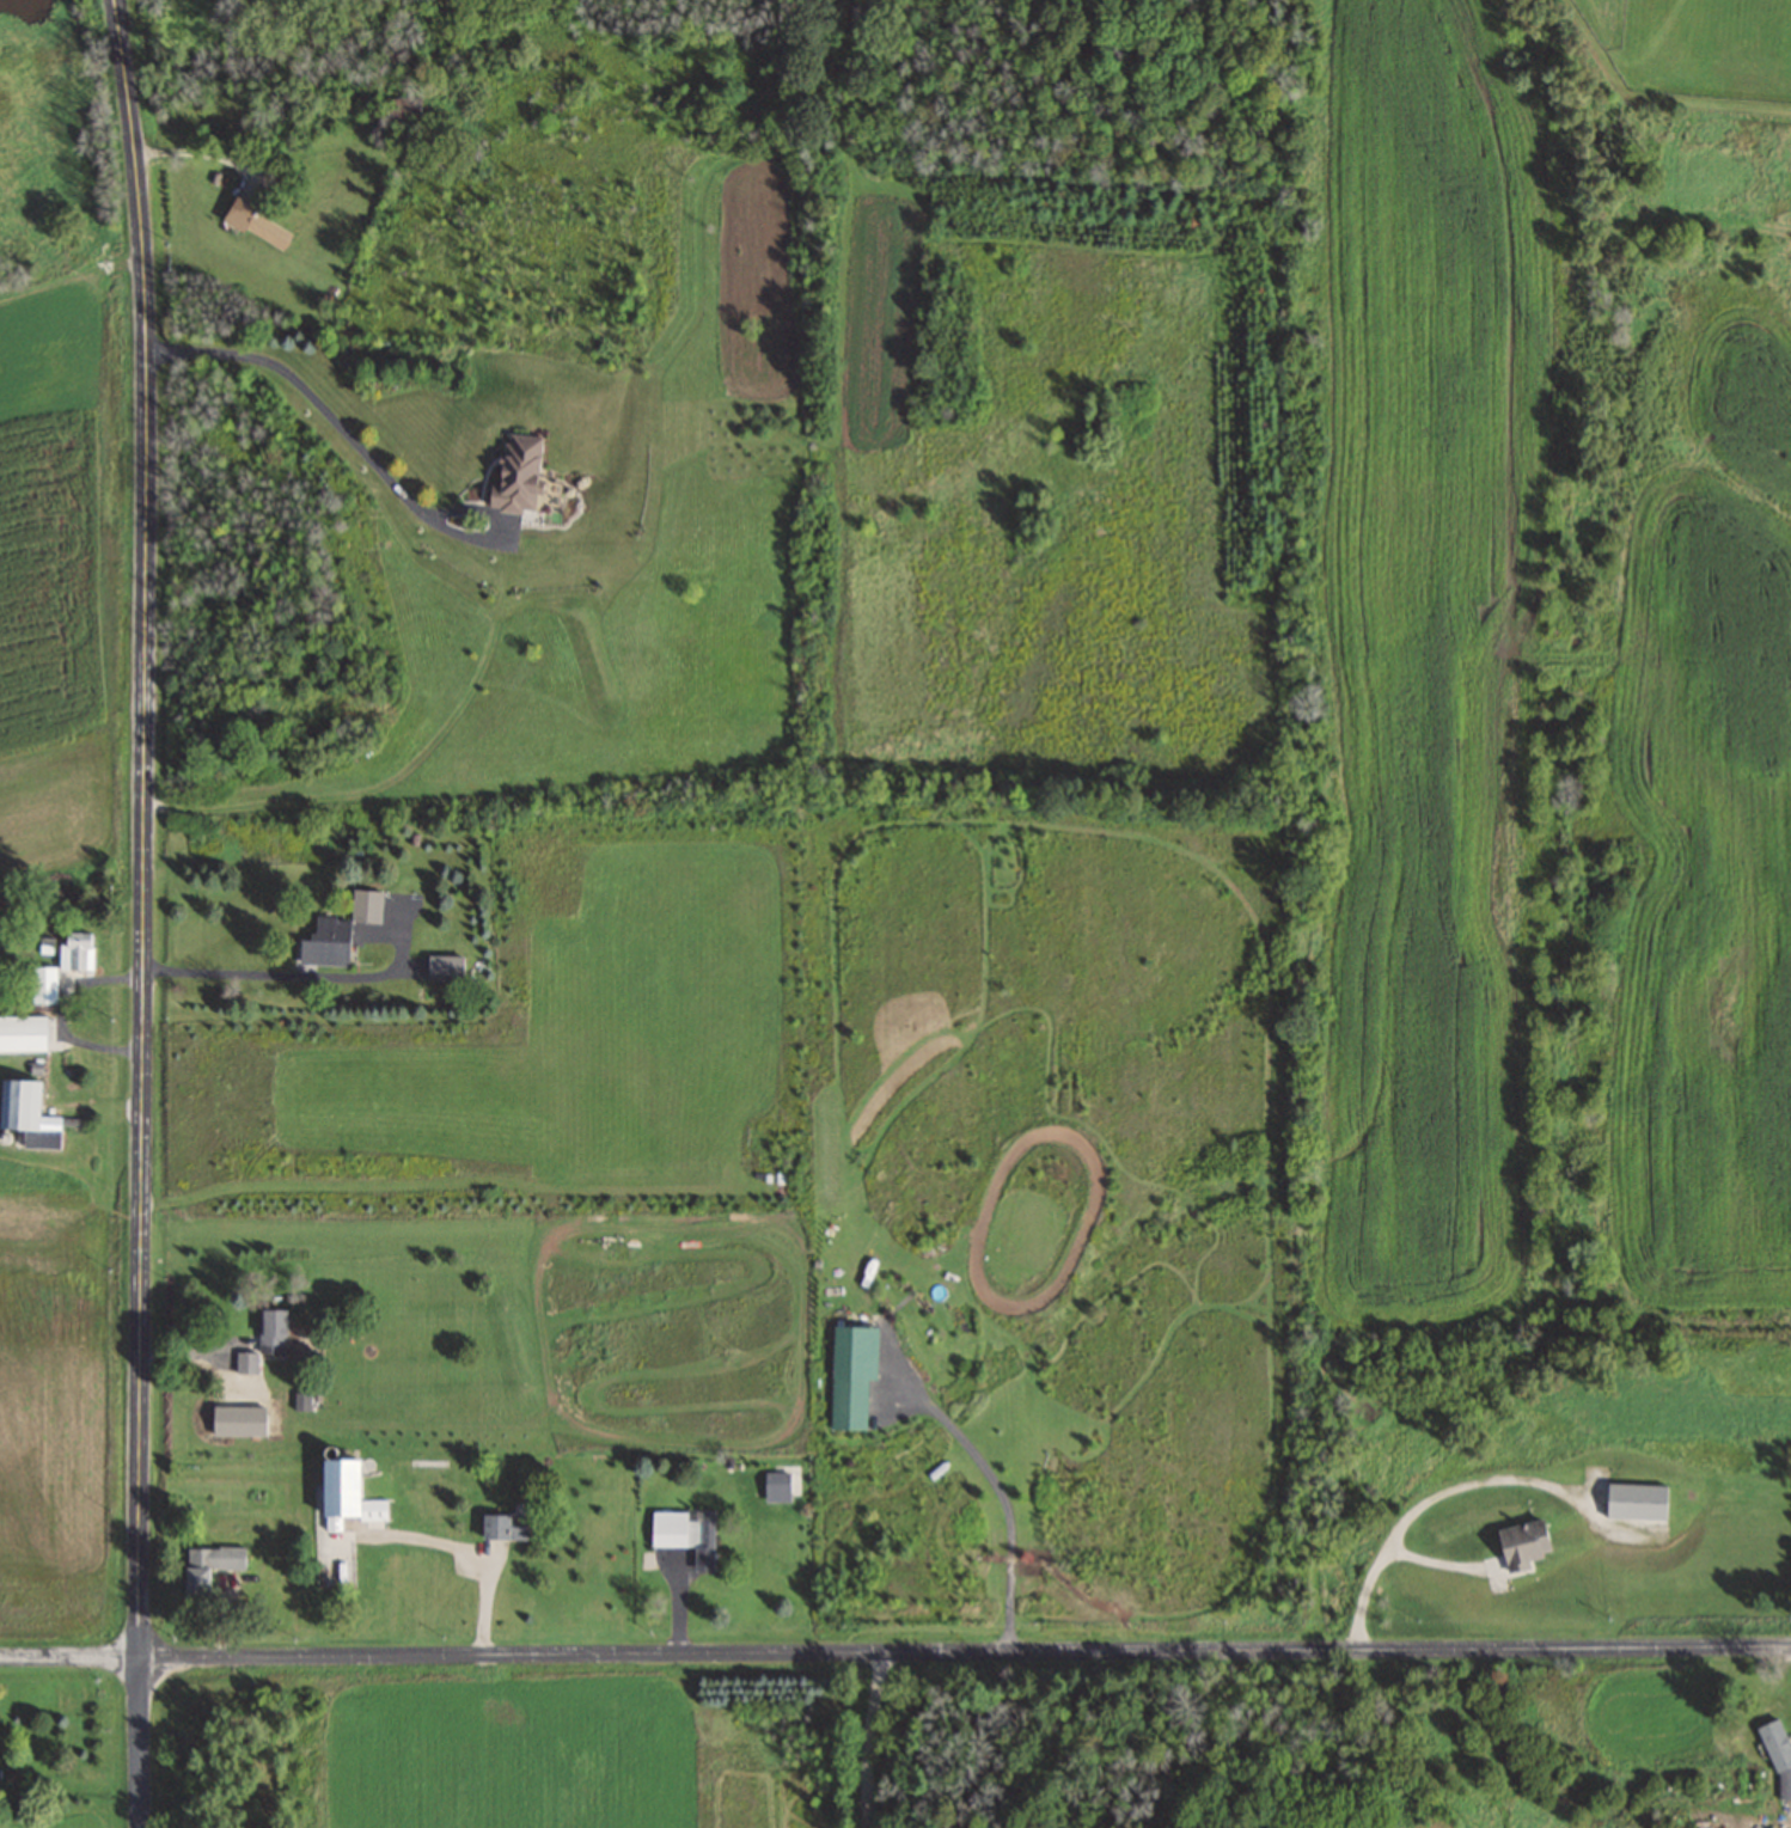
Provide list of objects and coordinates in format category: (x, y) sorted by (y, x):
building: (257, 224)
road: (361, 448)
building: (519, 473)
building: (365, 904)
road: (143, 912)
building: (324, 942)
building: (73, 949)
building: (444, 967)
building: (43, 984)
building: (22, 1033)
building: (22, 1106)
building: (271, 1331)
building: (850, 1375)
road: (1003, 1500)
building: (1636, 1500)
road: (1407, 1515)
building: (338, 1522)
building: (503, 1527)
building: (679, 1527)
building: (1522, 1545)
building: (208, 1565)
road: (894, 1649)
road: (870, 1737)
building: (1778, 1755)

